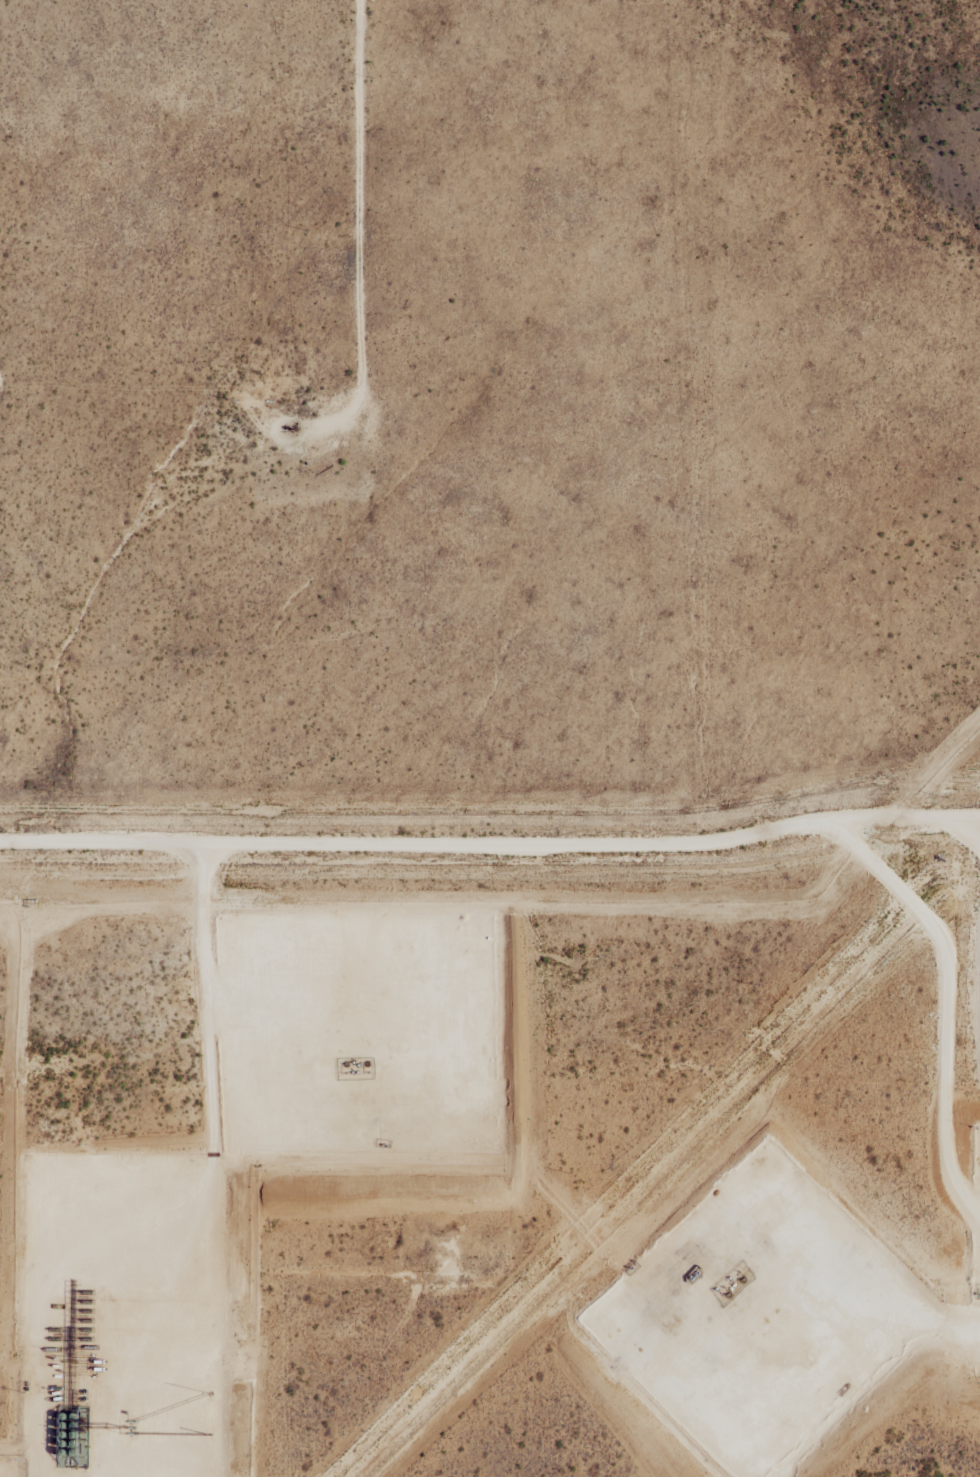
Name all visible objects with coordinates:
road: (360, 187)
road: (977, 813)
road: (600, 849)
road: (949, 989)
road: (363, 1023)
road: (218, 1052)
petroleum well: (345, 1063)
petroleum well: (366, 1063)
petroleum well: (742, 1279)
petroleum well: (728, 1295)
road: (141, 1334)
road: (849, 1343)

